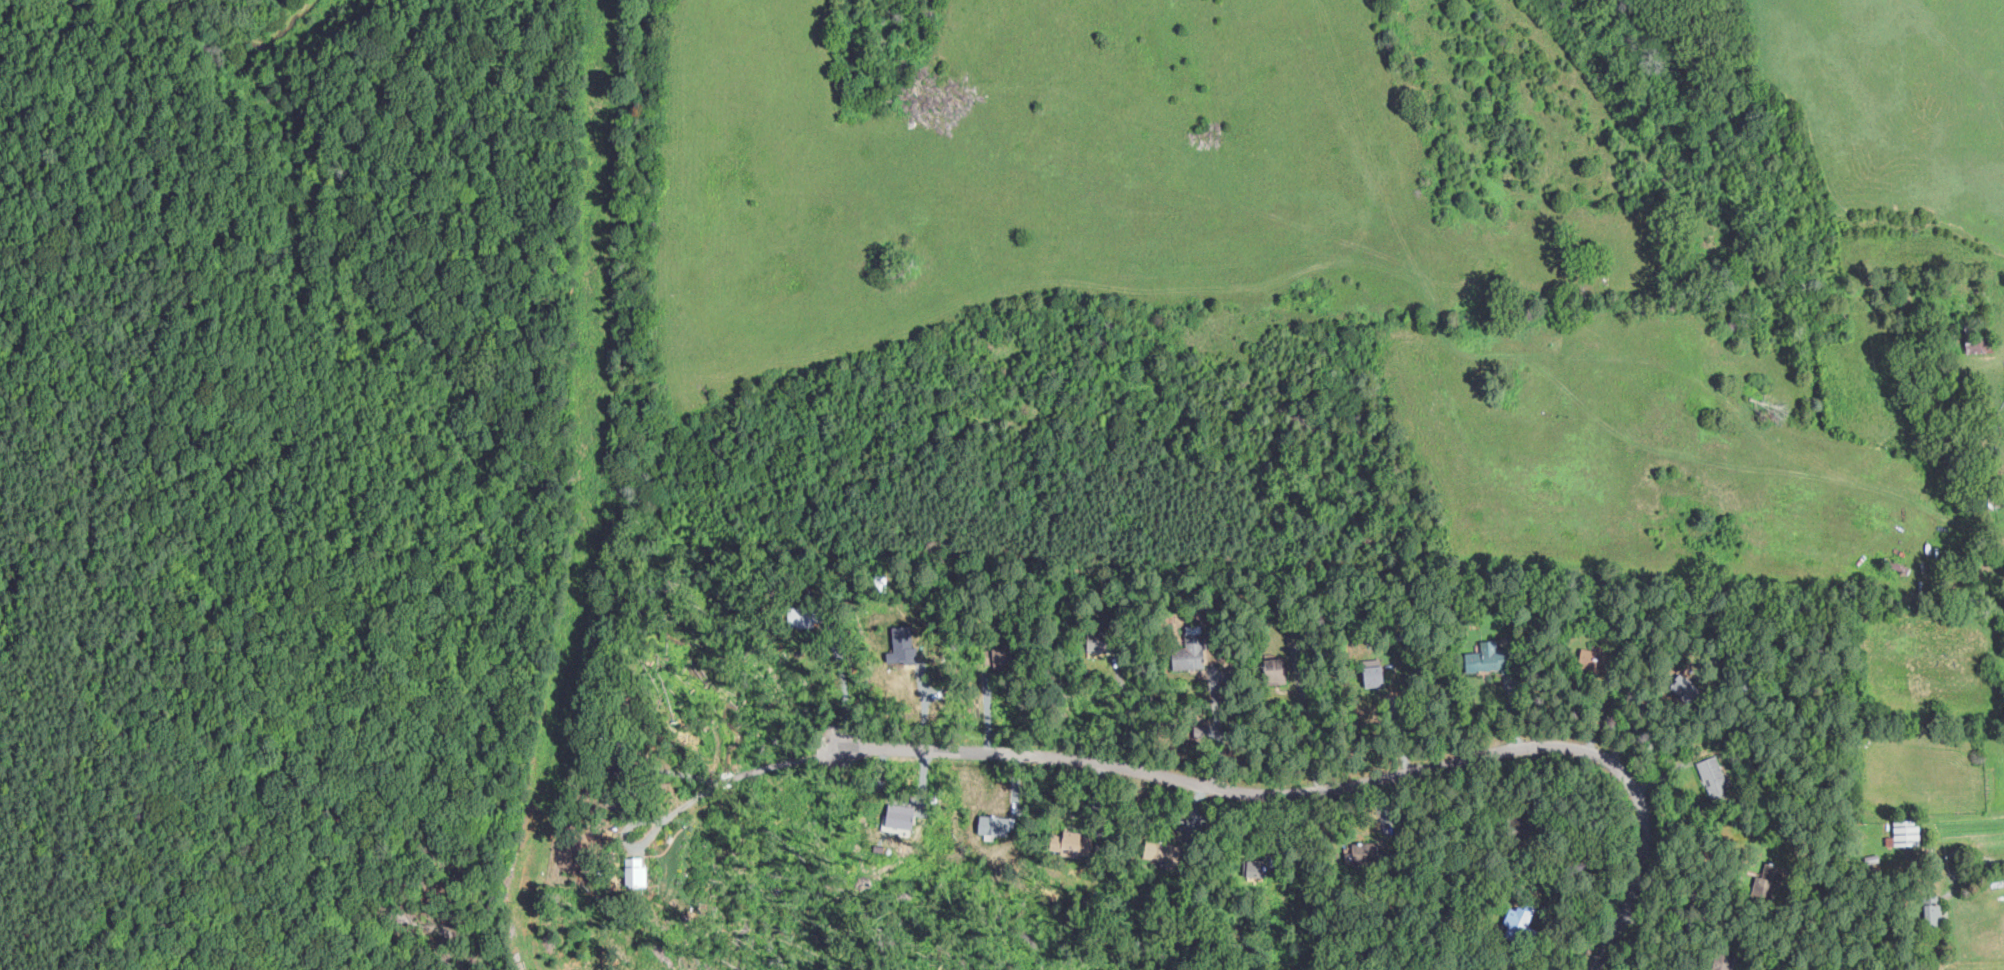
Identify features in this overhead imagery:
building: (1979, 346)
building: (902, 641)
building: (1187, 656)
building: (1485, 657)
building: (1373, 675)
road: (848, 694)
road: (1127, 709)
road: (1217, 728)
building: (617, 752)
road: (793, 761)
road: (669, 773)
building: (1712, 775)
road: (728, 780)
road: (1353, 783)
building: (607, 793)
road: (647, 821)
building: (900, 824)
building: (994, 824)
building: (1905, 832)
building: (634, 871)
road: (1973, 872)
building: (1932, 909)
building: (1519, 916)
road: (1664, 930)

